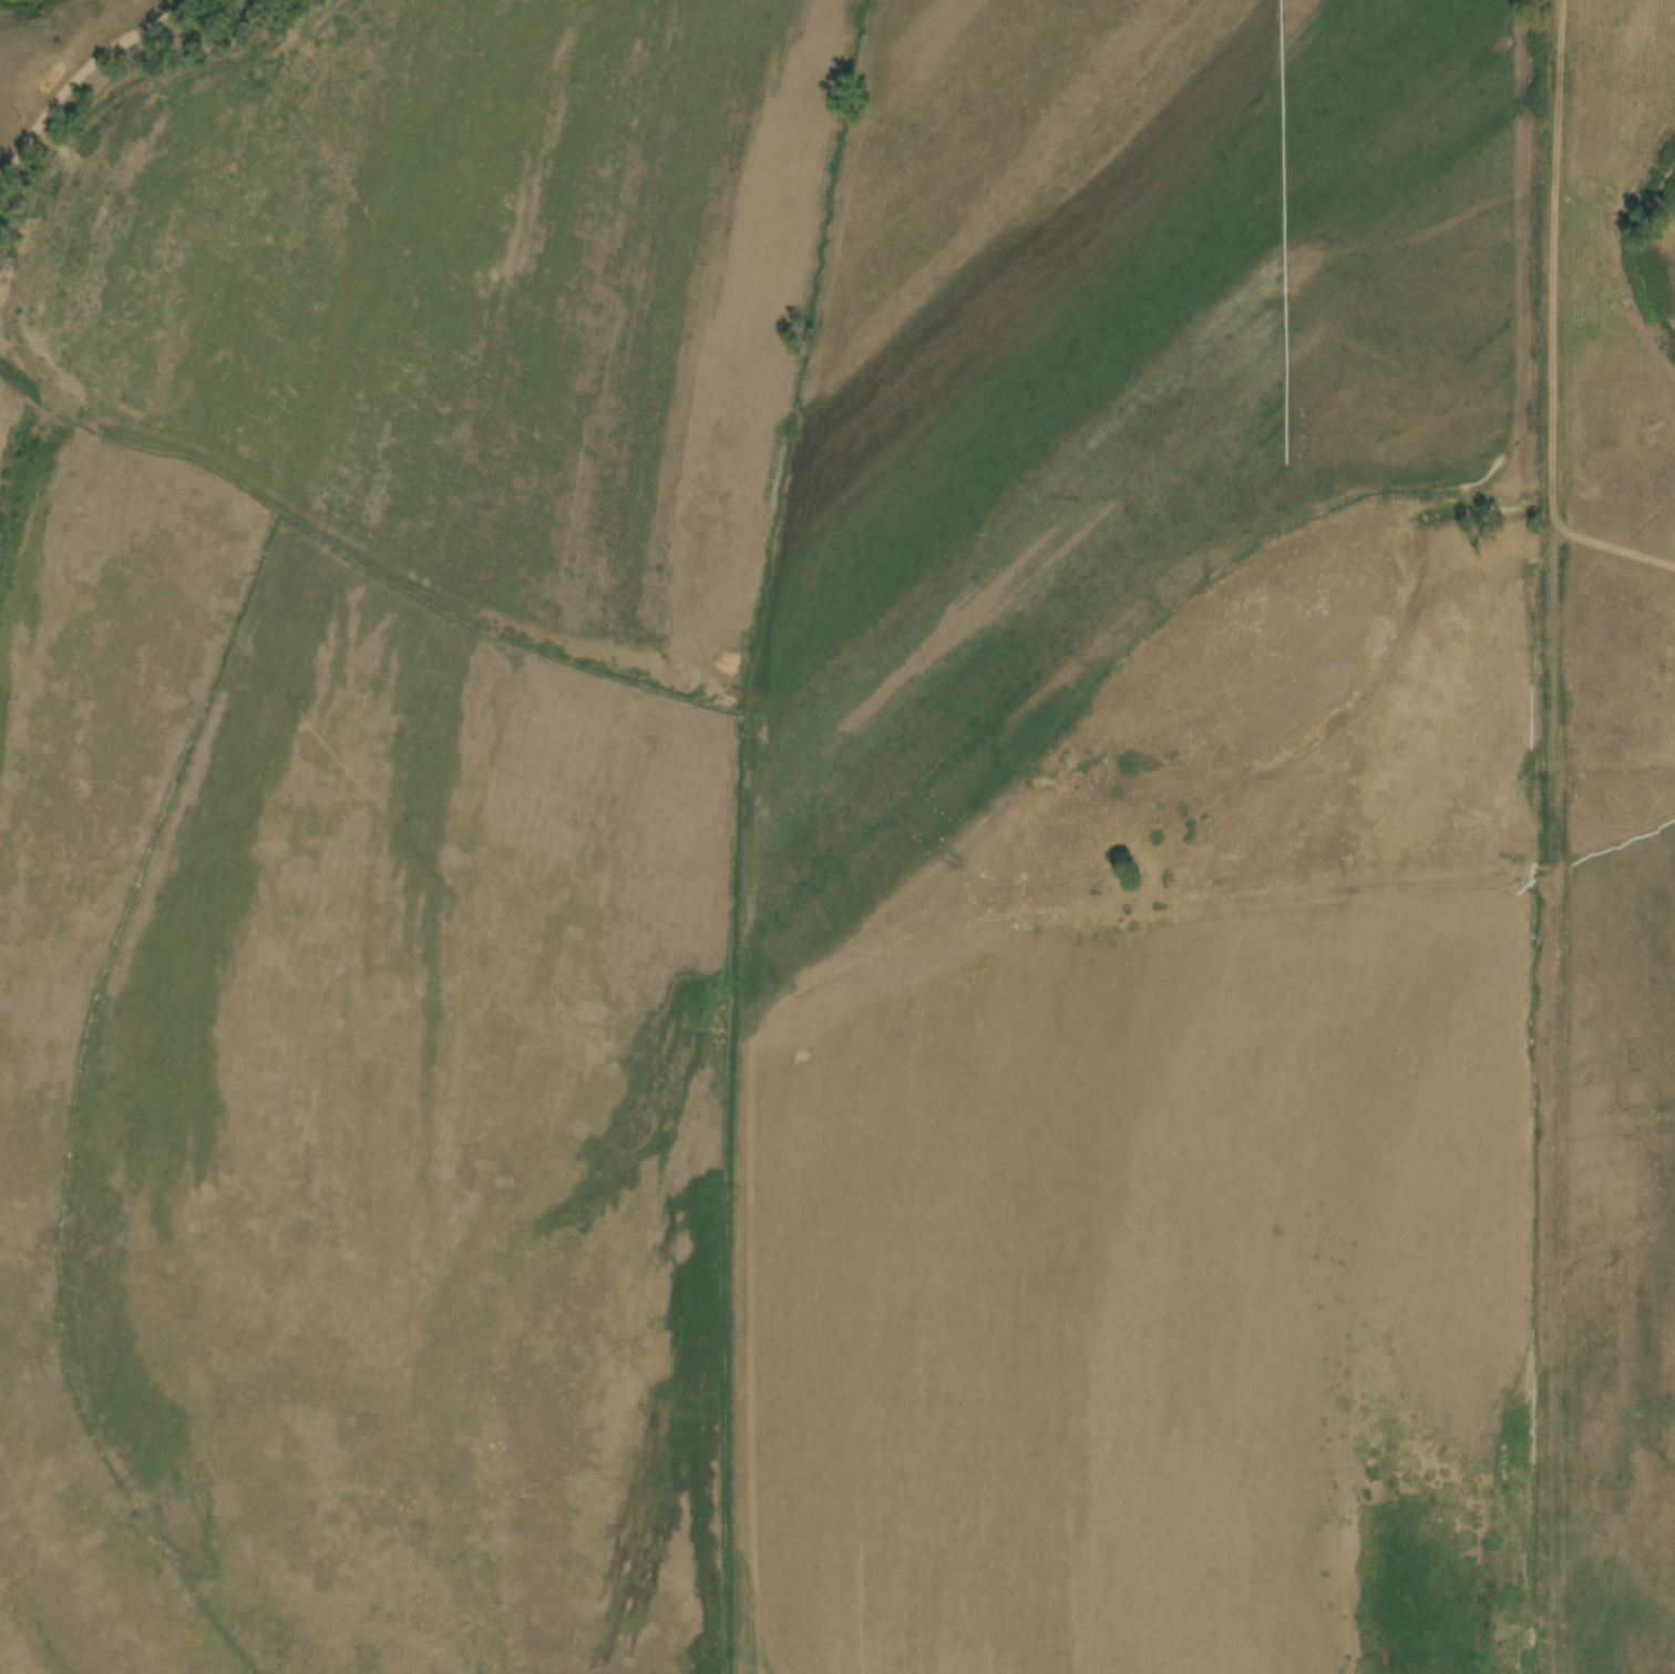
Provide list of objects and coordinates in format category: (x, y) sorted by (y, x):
road: (68, 85)
road: (1539, 836)
road: (748, 927)

